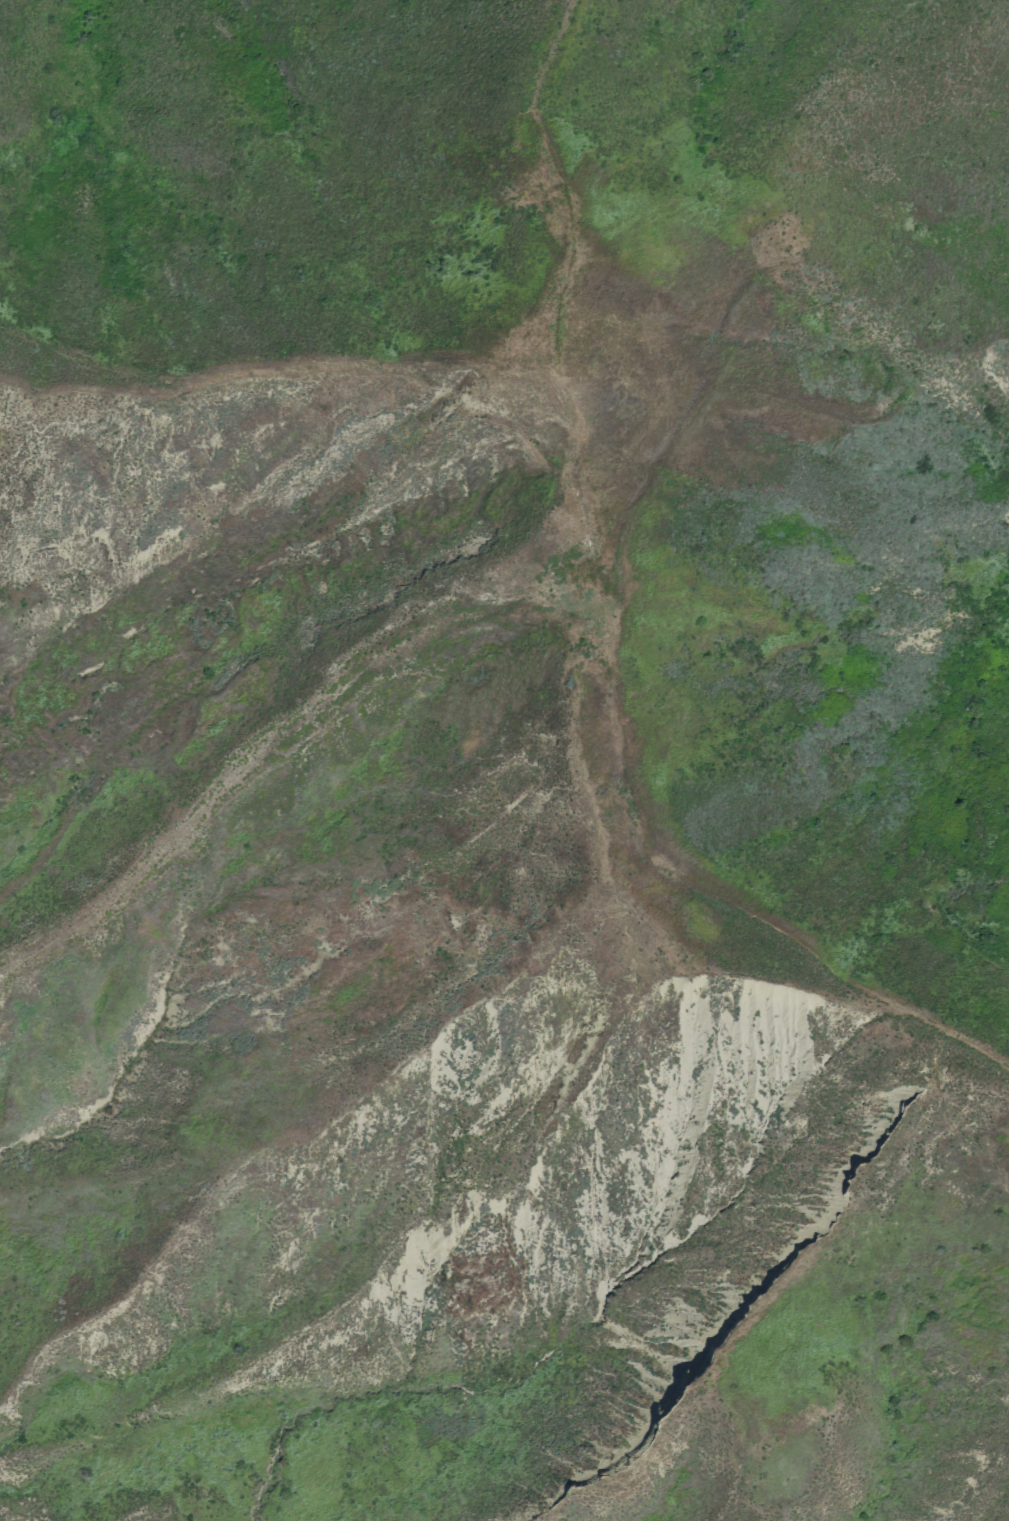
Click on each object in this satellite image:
road: (605, 559)
road: (123, 699)

